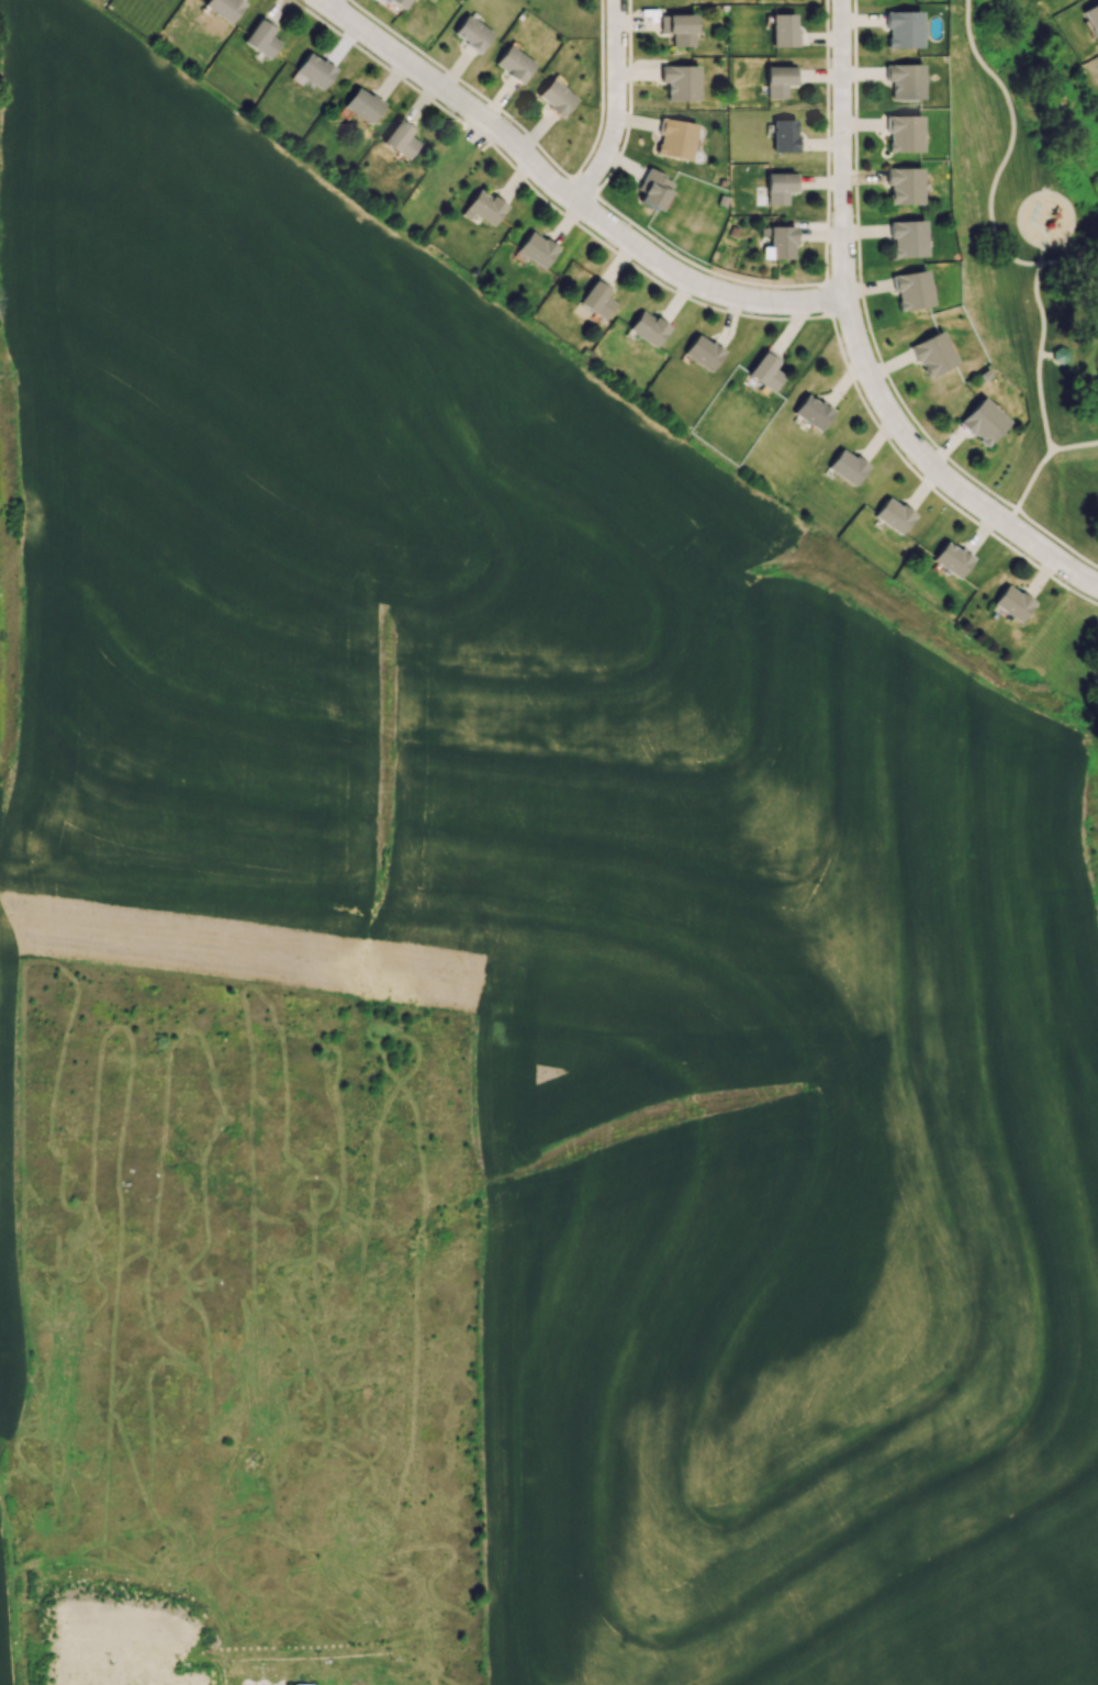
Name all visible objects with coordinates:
road: (323, 1)
building: (397, 3)
building: (224, 9)
building: (1090, 16)
building: (677, 27)
building: (901, 27)
building: (782, 30)
building: (471, 33)
building: (260, 38)
building: (514, 63)
building: (313, 69)
building: (777, 79)
building: (680, 80)
building: (904, 80)
building: (554, 97)
road: (614, 103)
building: (361, 104)
building: (901, 133)
building: (783, 135)
building: (674, 136)
building: (400, 138)
road: (537, 142)
road: (994, 174)
road: (582, 185)
building: (903, 186)
building: (652, 187)
building: (777, 187)
road: (563, 190)
building: (483, 207)
road: (1017, 214)
building: (907, 238)
building: (780, 241)
park: (1030, 244)
building: (536, 248)
road: (737, 280)
building: (910, 290)
building: (595, 299)
road: (1035, 299)
road: (715, 308)
building: (648, 328)
road: (870, 332)
road: (858, 344)
building: (702, 353)
road: (1047, 353)
building: (931, 354)
building: (764, 371)
road: (1041, 400)
building: (811, 412)
building: (982, 423)
road: (1039, 462)
building: (847, 466)
building: (894, 516)
building: (951, 559)
building: (1011, 603)
crop: (581, 902)
crop: (2, 1587)
building: (302, 1684)

